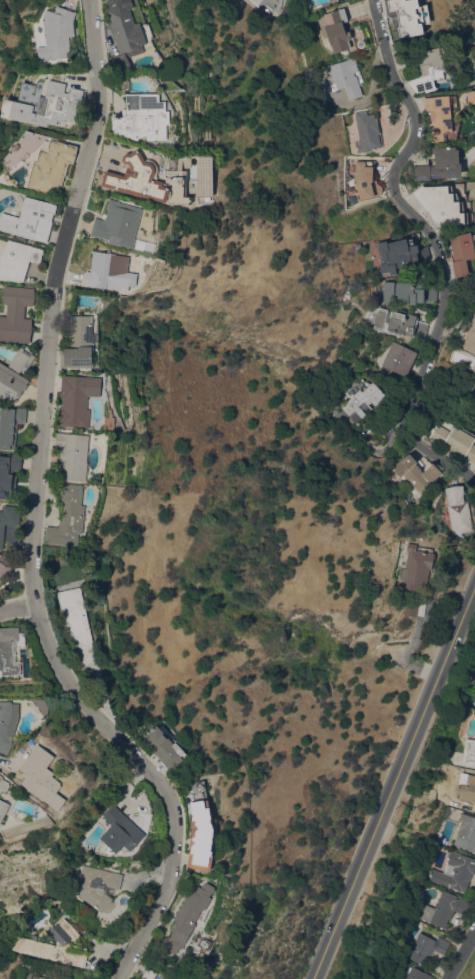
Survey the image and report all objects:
building: (254, 0)
building: (257, 0)
building: (406, 17)
building: (335, 29)
building: (56, 33)
building: (124, 33)
building: (428, 70)
building: (345, 77)
building: (125, 86)
building: (470, 96)
building: (46, 106)
building: (438, 116)
building: (142, 119)
building: (367, 131)
building: (439, 165)
building: (50, 167)
building: (128, 176)
building: (363, 179)
building: (442, 204)
building: (31, 219)
building: (118, 224)
road: (432, 247)
building: (462, 252)
building: (396, 255)
building: (17, 260)
building: (110, 269)
building: (408, 292)
building: (16, 314)
building: (394, 321)
building: (470, 337)
building: (79, 342)
building: (399, 358)
building: (14, 376)
building: (471, 389)
building: (77, 399)
building: (363, 400)
building: (10, 425)
building: (455, 440)
building: (72, 456)
building: (8, 472)
building: (416, 472)
building: (458, 510)
road: (37, 517)
building: (68, 517)
building: (8, 519)
building: (5, 566)
building: (415, 569)
building: (411, 606)
road: (18, 611)
building: (76, 623)
building: (10, 650)
building: (473, 699)
building: (7, 724)
building: (165, 746)
building: (468, 752)
building: (42, 777)
building: (3, 784)
road: (394, 786)
building: (467, 786)
building: (3, 809)
building: (120, 831)
building: (466, 832)
building: (201, 836)
building: (456, 871)
building: (96, 885)
building: (444, 909)
building: (186, 916)
building: (52, 945)
building: (426, 947)
road: (462, 957)
building: (149, 974)
building: (417, 974)
building: (26, 975)
building: (39, 977)
building: (61, 978)

